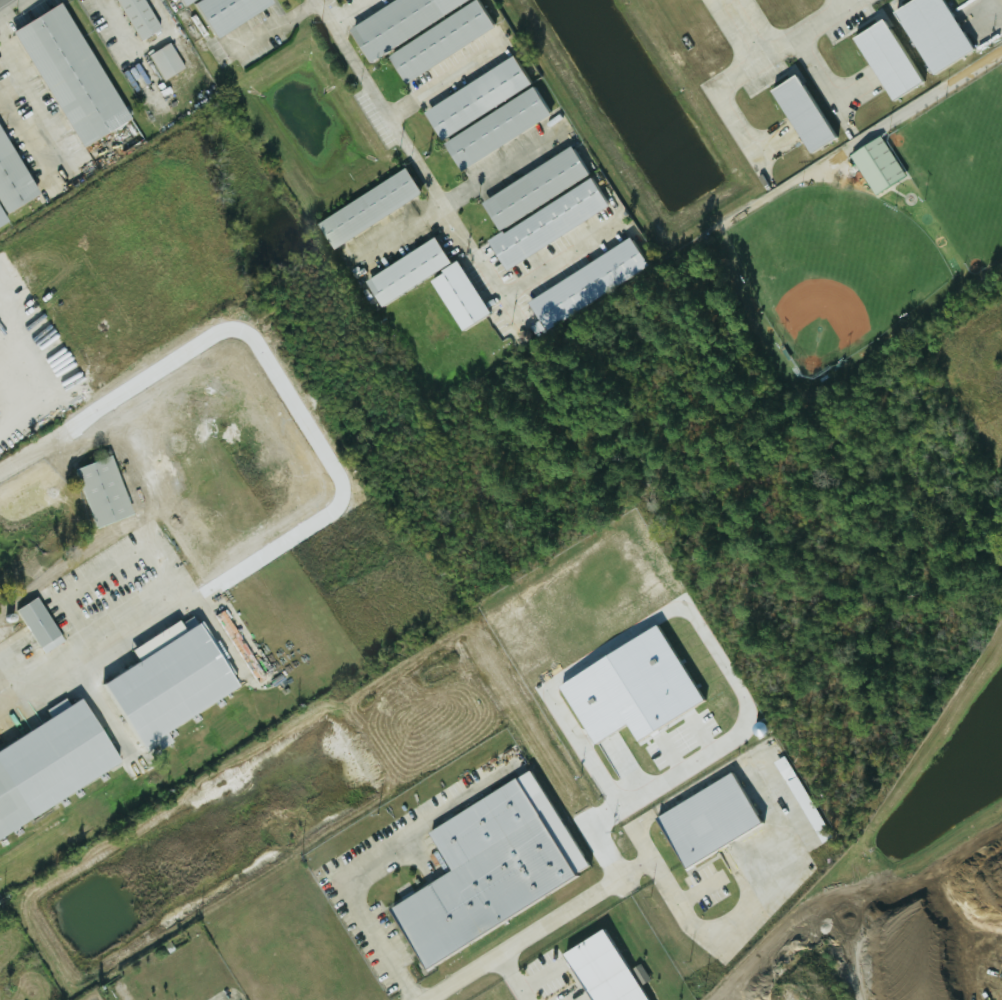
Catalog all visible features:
building: (687, 0)
road: (2, 1)
building: (184, 2)
road: (850, 3)
road: (347, 11)
building: (227, 12)
building: (139, 17)
building: (397, 23)
road: (277, 24)
building: (934, 31)
road: (162, 36)
building: (442, 40)
road: (121, 47)
road: (5, 50)
building: (889, 58)
building: (166, 61)
road: (753, 63)
building: (68, 75)
road: (443, 81)
road: (824, 84)
road: (928, 96)
building: (479, 97)
building: (804, 113)
road: (31, 115)
building: (498, 127)
road: (413, 160)
building: (878, 164)
park: (961, 165)
road: (497, 167)
building: (13, 177)
building: (536, 186)
building: (372, 207)
building: (2, 219)
building: (550, 223)
road: (551, 262)
park: (833, 268)
building: (409, 271)
building: (587, 283)
building: (462, 295)
road: (61, 350)
road: (10, 396)
road: (114, 403)
road: (297, 407)
road: (10, 420)
building: (103, 491)
road: (175, 605)
building: (41, 625)
road: (708, 644)
building: (169, 684)
road: (23, 715)
building: (49, 762)
road: (781, 832)
building: (497, 868)
road: (350, 893)
road: (535, 930)
building: (611, 969)
road: (527, 979)

